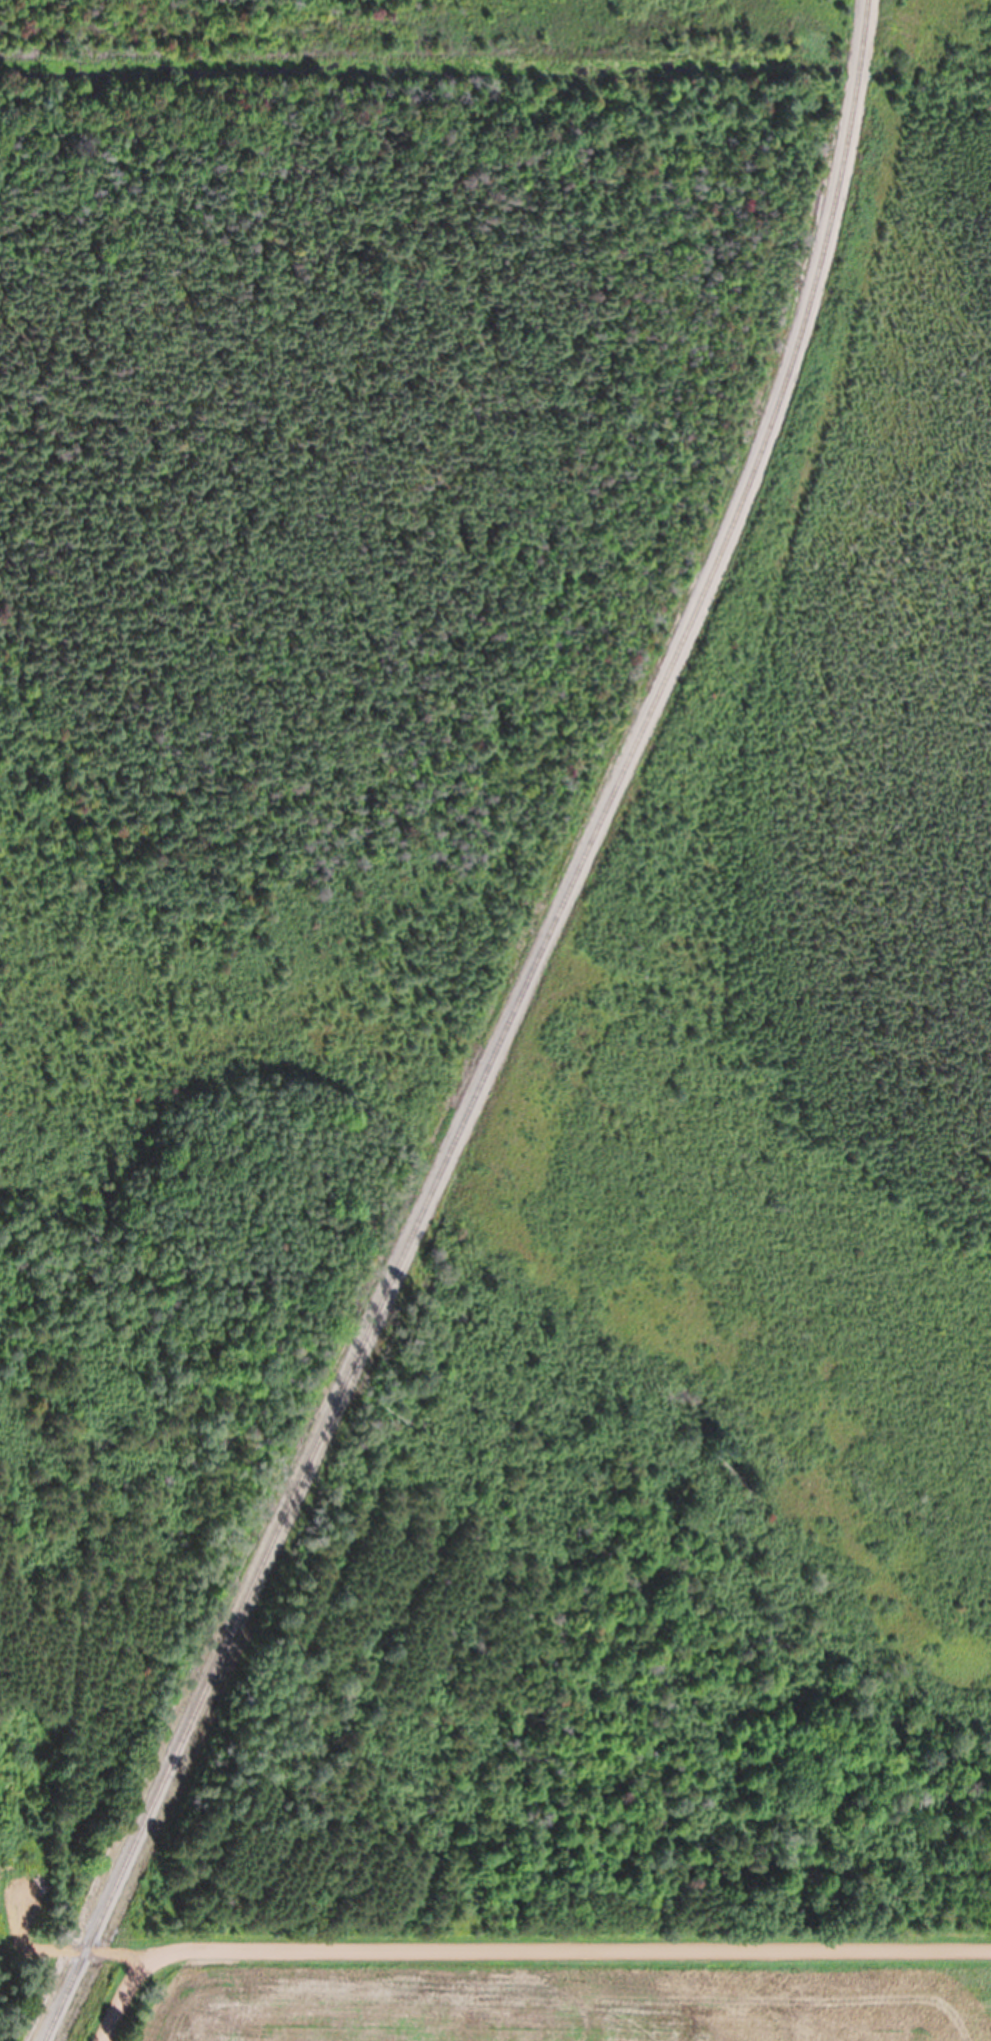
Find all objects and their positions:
railway: (501, 1035)
road: (522, 1948)
road: (61, 1951)

